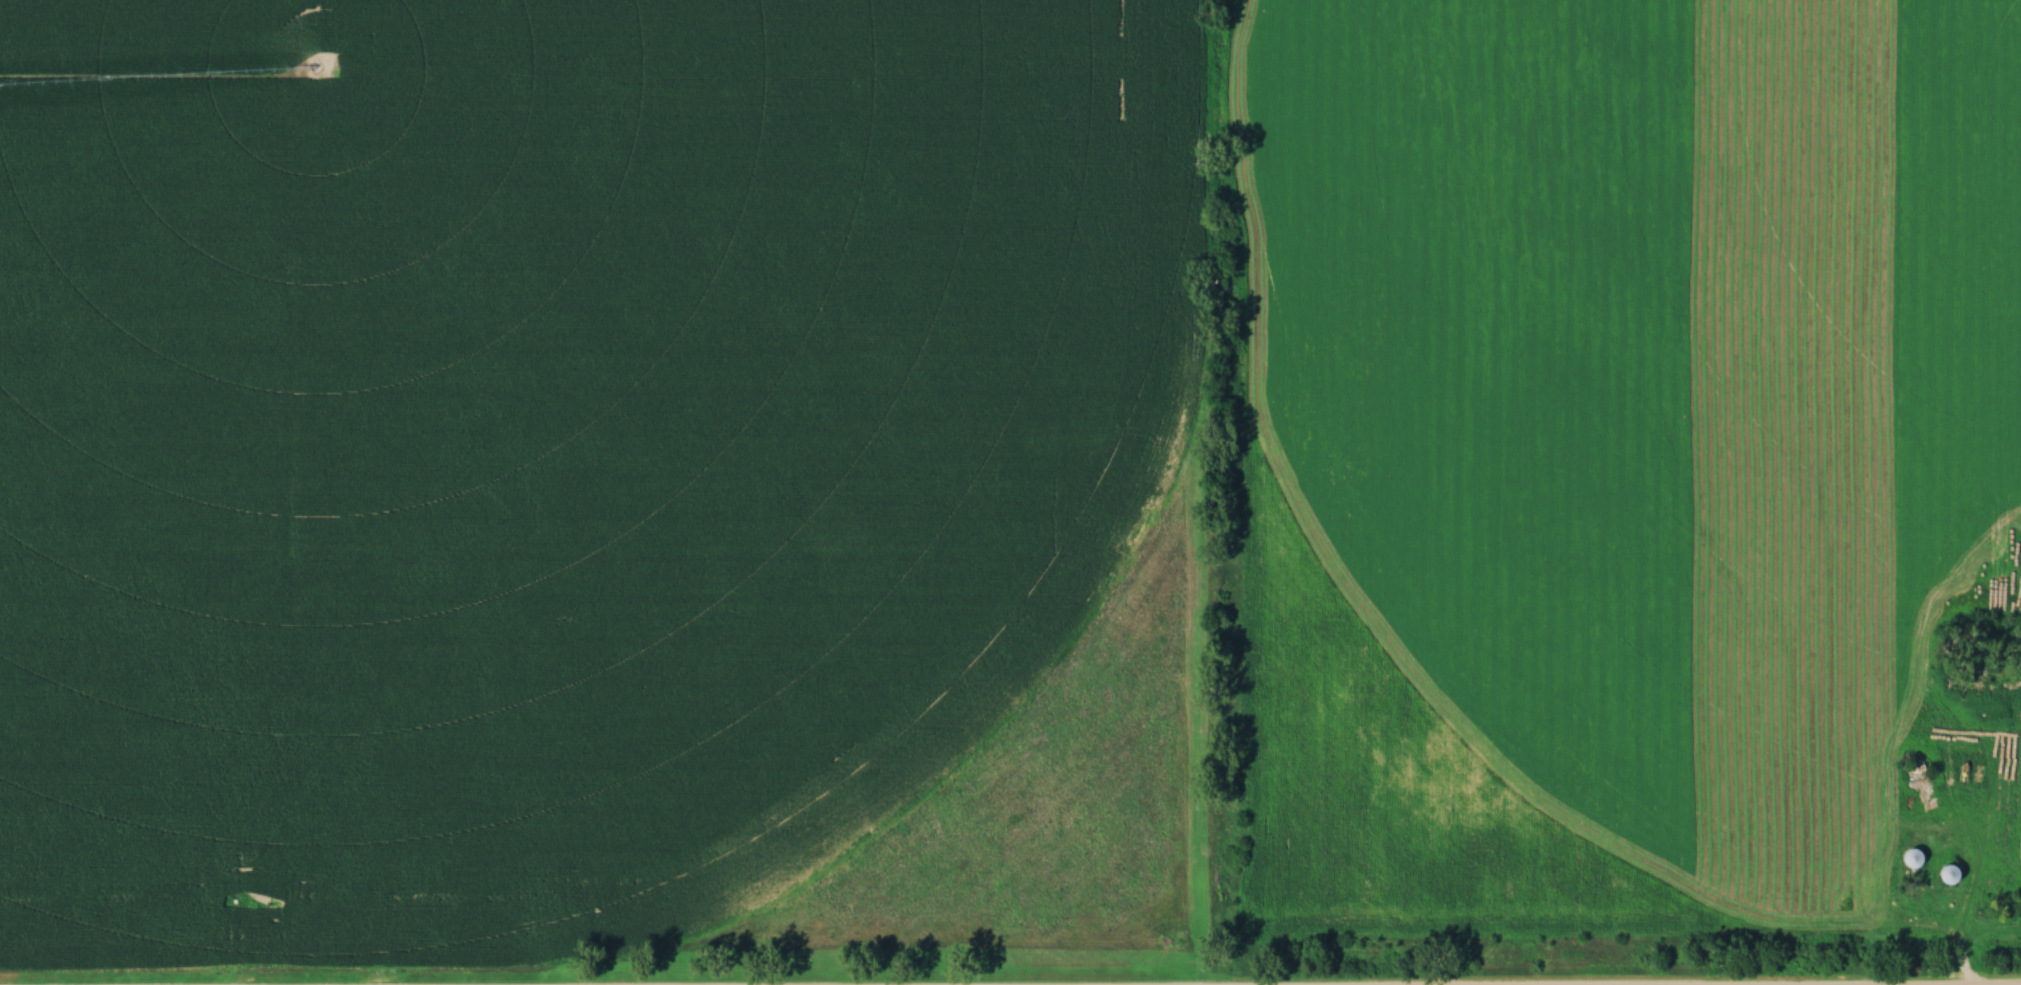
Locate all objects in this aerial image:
building: (1921, 716)
building: (294, 800)
building: (1915, 857)
road: (313, 869)
building: (296, 902)

